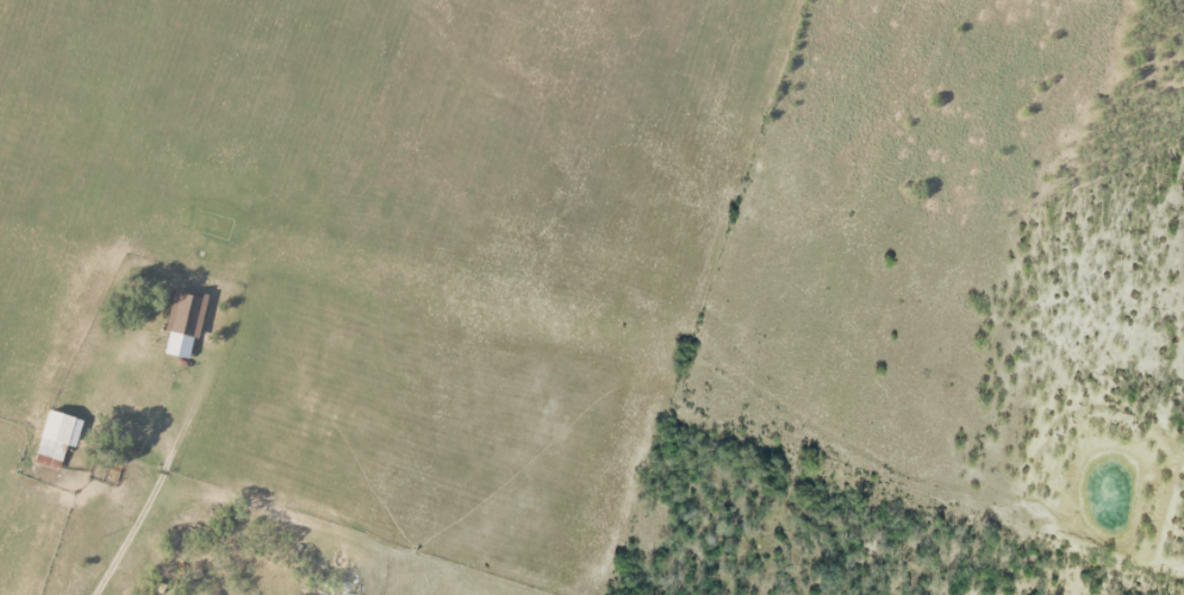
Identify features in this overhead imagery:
building: (186, 313)
building: (57, 438)
road: (158, 481)

